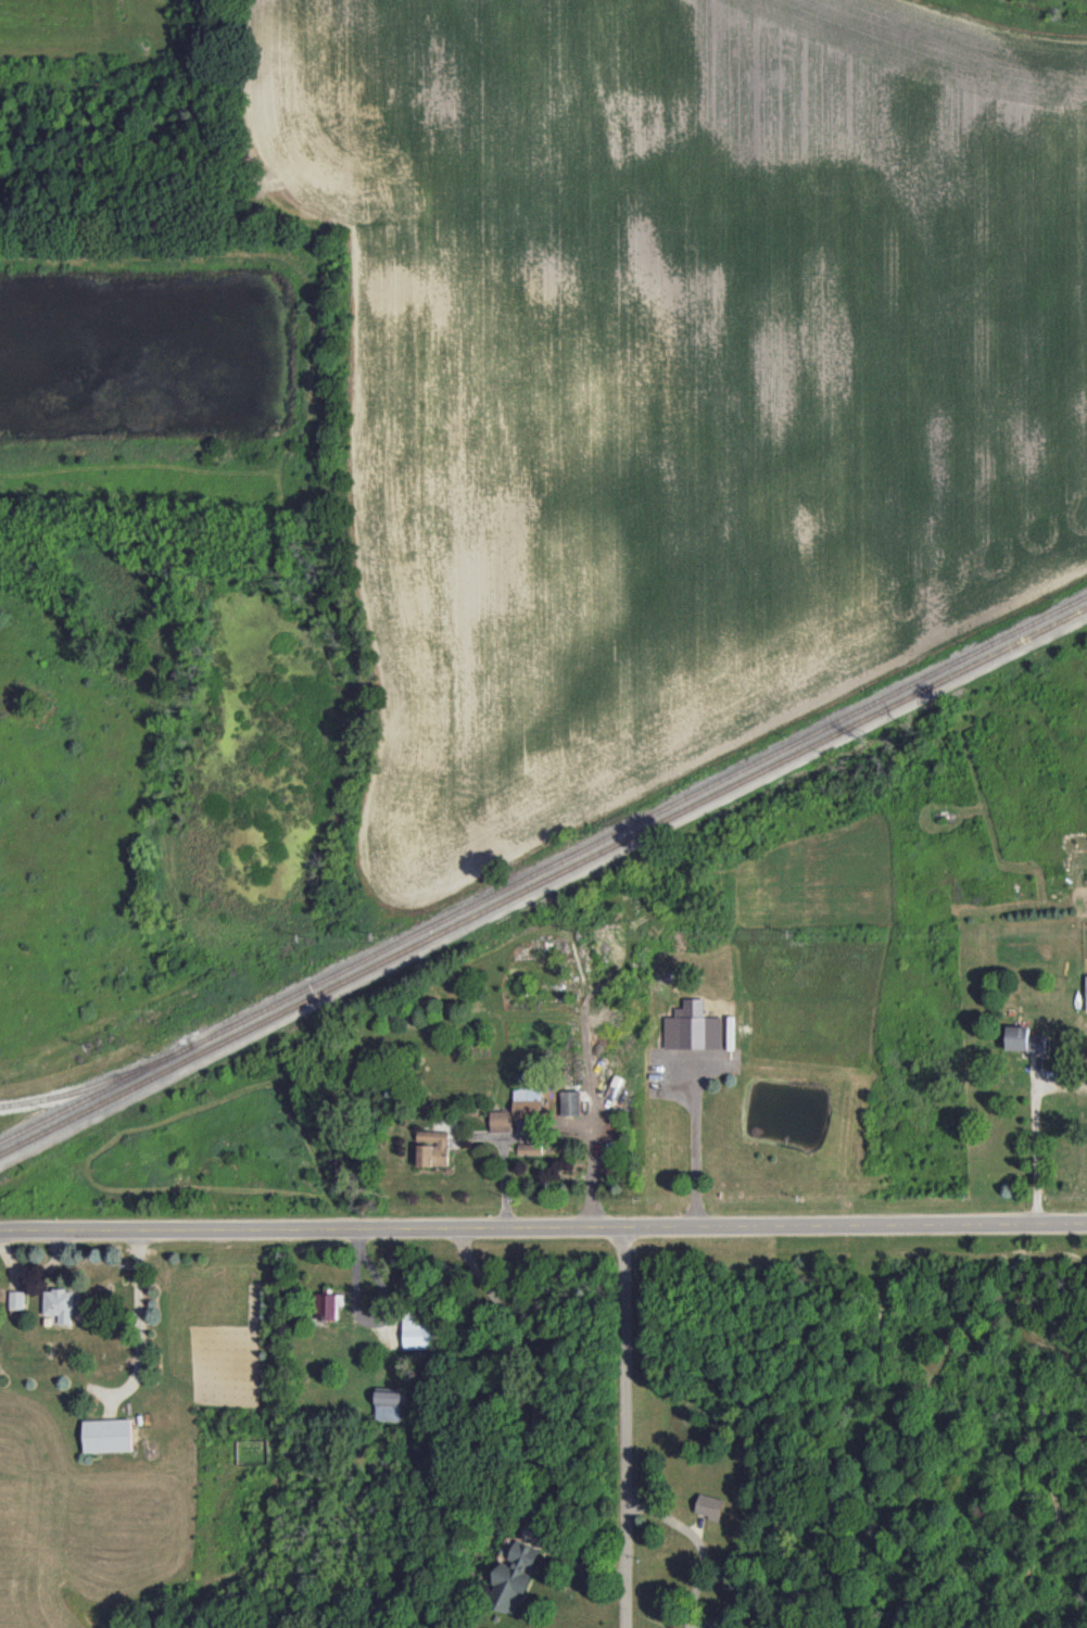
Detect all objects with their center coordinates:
railway: (543, 868)
railway: (543, 880)
building: (1085, 993)
building: (686, 1026)
building: (1024, 1040)
building: (616, 1083)
railway: (88, 1087)
building: (527, 1102)
building: (570, 1103)
building: (501, 1121)
road: (1033, 1125)
road: (694, 1140)
building: (433, 1148)
road: (592, 1171)
road: (543, 1227)
building: (16, 1302)
building: (59, 1304)
building: (327, 1305)
road: (365, 1314)
road: (137, 1316)
building: (418, 1332)
building: (389, 1403)
road: (535, 1421)
road: (623, 1427)
building: (108, 1435)
building: (709, 1506)
road: (698, 1543)
building: (514, 1578)

